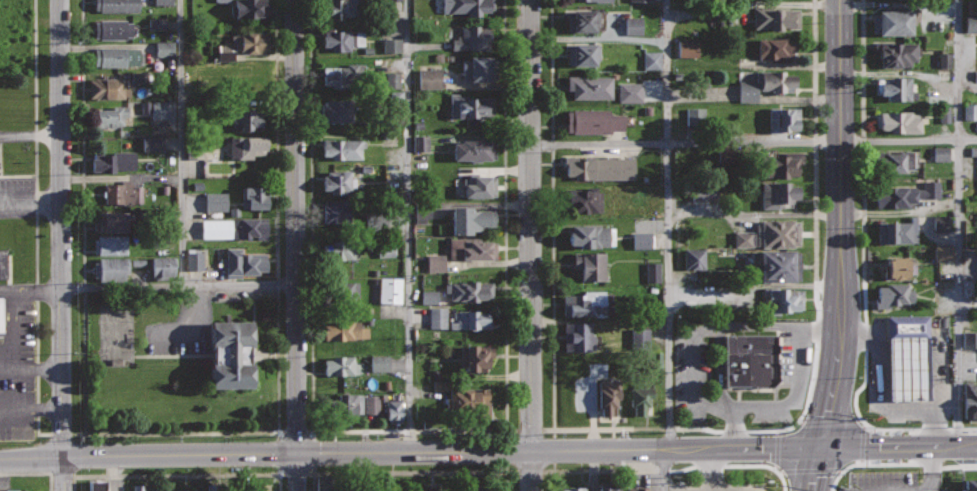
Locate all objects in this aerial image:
building: (222, 0)
building: (585, 0)
building: (640, 0)
building: (162, 2)
building: (117, 5)
building: (468, 6)
building: (248, 8)
building: (348, 8)
building: (971, 15)
building: (775, 17)
building: (895, 19)
building: (581, 20)
building: (156, 23)
building: (633, 26)
building: (113, 29)
building: (474, 37)
building: (343, 38)
road: (598, 40)
building: (252, 41)
building: (391, 45)
building: (687, 47)
building: (163, 48)
building: (775, 48)
building: (224, 52)
building: (582, 53)
building: (897, 53)
building: (116, 56)
building: (651, 60)
building: (944, 60)
building: (480, 68)
building: (975, 74)
building: (345, 75)
building: (139, 76)
building: (428, 78)
building: (392, 80)
building: (251, 82)
building: (764, 85)
building: (590, 86)
building: (108, 87)
building: (894, 87)
building: (630, 92)
building: (471, 105)
building: (160, 110)
building: (337, 110)
building: (970, 111)
building: (944, 114)
building: (109, 115)
building: (694, 116)
building: (246, 118)
building: (784, 118)
building: (593, 120)
building: (898, 121)
parking lot: (26, 135)
road: (29, 135)
road: (753, 142)
building: (152, 143)
road: (182, 143)
building: (420, 143)
building: (247, 145)
building: (345, 148)
building: (474, 149)
building: (973, 151)
building: (941, 153)
building: (899, 160)
building: (114, 161)
building: (781, 163)
building: (600, 167)
building: (339, 180)
building: (479, 185)
building: (123, 192)
building: (703, 192)
building: (777, 193)
building: (906, 194)
building: (253, 197)
parking lot: (22, 198)
building: (584, 200)
building: (215, 201)
road: (29, 202)
building: (336, 210)
building: (422, 215)
road: (83, 216)
building: (472, 218)
building: (115, 221)
building: (942, 223)
road: (958, 223)
road: (35, 224)
road: (409, 225)
road: (668, 225)
road: (841, 226)
building: (234, 227)
building: (897, 232)
building: (770, 234)
building: (592, 235)
building: (641, 240)
building: (110, 244)
road: (60, 245)
road: (293, 245)
road: (530, 245)
building: (471, 247)
building: (339, 249)
building: (943, 253)
building: (694, 258)
building: (194, 261)
building: (4, 262)
building: (245, 262)
building: (435, 263)
building: (590, 265)
building: (778, 265)
building: (162, 266)
building: (112, 267)
building: (899, 267)
road: (862, 271)
building: (653, 272)
road: (177, 287)
building: (390, 290)
building: (469, 290)
road: (6, 291)
road: (37, 291)
building: (341, 291)
building: (893, 294)
building: (429, 297)
building: (781, 301)
building: (589, 303)
road: (277, 313)
building: (1, 315)
building: (437, 318)
building: (471, 319)
building: (911, 326)
building: (341, 329)
building: (578, 336)
road: (13, 337)
building: (639, 337)
building: (969, 339)
building: (231, 352)
building: (473, 357)
building: (750, 359)
parking lot: (20, 360)
building: (379, 363)
building: (340, 365)
building: (913, 368)
road: (37, 370)
building: (609, 395)
building: (641, 396)
building: (970, 399)
building: (464, 400)
building: (371, 404)
building: (346, 406)
building: (394, 409)
road: (31, 411)
road: (673, 428)
road: (407, 431)
road: (79, 434)
road: (899, 447)
traffic signals: (823, 449)
road: (443, 451)
traffic signals: (295, 453)
road: (32, 457)
road: (897, 463)
road: (813, 469)
road: (408, 470)
road: (664, 470)
road: (666, 471)
road: (34, 472)
road: (177, 475)
building: (328, 483)
building: (969, 484)
building: (98, 485)
building: (611, 486)
building: (213, 487)
building: (257, 487)
building: (144, 488)
building: (14, 489)
building: (184, 489)
building: (573, 489)
building: (637, 489)
building: (391, 490)
building: (475, 490)

